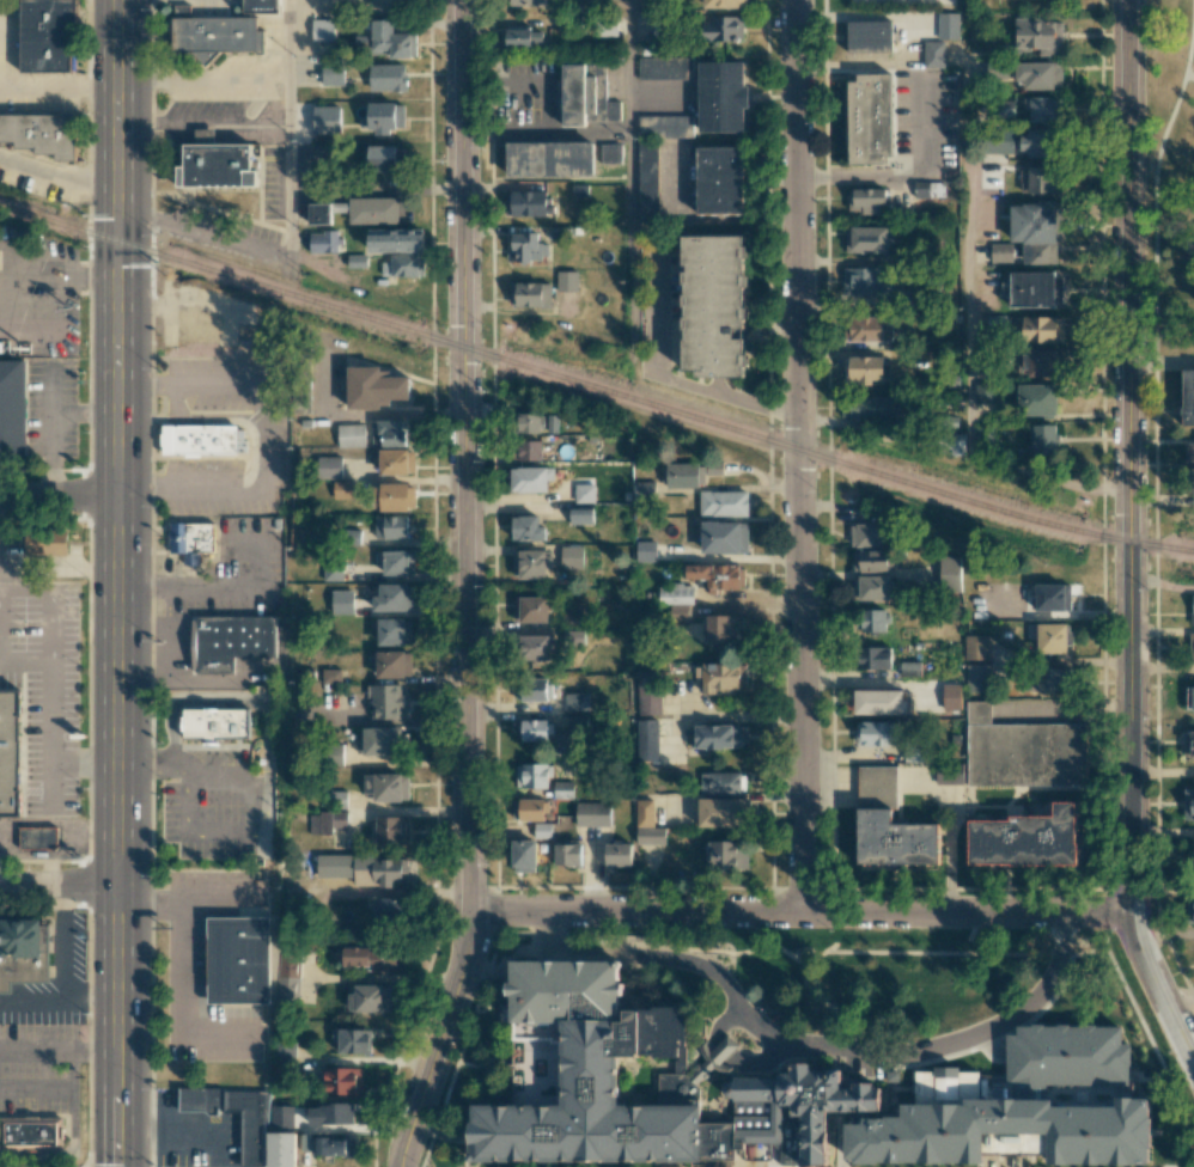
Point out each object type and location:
building: (534, 2)
building: (724, 2)
building: (262, 6)
building: (876, 6)
building: (948, 25)
building: (721, 29)
building: (322, 30)
building: (49, 35)
building: (218, 35)
building: (869, 35)
building: (1040, 35)
building: (523, 37)
building: (390, 39)
building: (933, 53)
road: (628, 67)
building: (664, 67)
building: (333, 74)
building: (1040, 74)
road: (1190, 74)
road: (1193, 74)
building: (388, 77)
road: (59, 84)
building: (578, 97)
building: (725, 98)
building: (1041, 109)
building: (325, 117)
building: (383, 117)
building: (867, 120)
building: (665, 126)
road: (290, 130)
road: (546, 134)
building: (42, 136)
building: (999, 141)
building: (1036, 142)
park: (1159, 148)
building: (610, 153)
building: (382, 158)
building: (554, 161)
building: (220, 169)
road: (59, 173)
road: (910, 177)
building: (1040, 179)
building: (647, 181)
building: (724, 182)
building: (928, 189)
building: (866, 200)
building: (525, 203)
building: (373, 209)
building: (318, 213)
building: (1035, 230)
road: (1192, 232)
road: (203, 236)
building: (866, 239)
building: (396, 240)
building: (324, 242)
road: (630, 245)
building: (526, 246)
building: (1001, 252)
building: (403, 265)
building: (567, 280)
building: (866, 280)
building: (1035, 288)
building: (530, 294)
building: (713, 307)
building: (867, 329)
building: (1038, 329)
road: (969, 337)
building: (1037, 362)
road: (1161, 362)
building: (866, 369)
road: (659, 375)
building: (373, 387)
railway: (595, 387)
building: (983, 395)
building: (1187, 396)
building: (1036, 399)
building: (12, 403)
building: (869, 407)
building: (528, 422)
building: (388, 433)
building: (351, 435)
building: (200, 439)
building: (1042, 439)
building: (956, 444)
building: (528, 450)
building: (1189, 452)
road: (798, 456)
building: (396, 460)
building: (329, 466)
building: (689, 473)
building: (530, 478)
building: (642, 490)
building: (584, 493)
road: (59, 495)
building: (391, 496)
road: (1156, 499)
building: (723, 503)
building: (581, 514)
building: (390, 526)
building: (526, 527)
building: (867, 534)
building: (724, 537)
road: (1129, 538)
building: (191, 540)
building: (45, 542)
building: (646, 551)
building: (572, 556)
building: (395, 561)
building: (870, 561)
building: (531, 563)
parking lot: (234, 572)
building: (333, 572)
building: (950, 574)
building: (718, 575)
road: (117, 582)
building: (871, 587)
road: (465, 588)
road: (226, 591)
building: (394, 597)
building: (1052, 597)
road: (53, 599)
building: (342, 601)
building: (530, 609)
building: (1192, 610)
building: (572, 617)
building: (873, 619)
building: (720, 629)
building: (394, 630)
building: (573, 637)
building: (1053, 637)
building: (230, 641)
building: (976, 646)
building: (536, 647)
building: (1190, 647)
building: (873, 658)
road: (26, 664)
building: (390, 664)
building: (909, 668)
building: (723, 677)
building: (976, 677)
building: (1054, 679)
building: (531, 689)
building: (648, 695)
building: (951, 696)
building: (1189, 697)
building: (385, 699)
building: (879, 702)
building: (218, 722)
building: (577, 722)
building: (534, 729)
building: (873, 733)
building: (718, 735)
building: (646, 739)
building: (380, 741)
building: (1188, 744)
road: (51, 747)
building: (1017, 752)
building: (11, 753)
building: (531, 775)
building: (721, 782)
building: (564, 789)
building: (1188, 802)
building: (529, 808)
building: (644, 812)
building: (724, 812)
building: (592, 813)
building: (327, 821)
building: (888, 825)
building: (391, 829)
building: (542, 829)
building: (650, 835)
building: (38, 837)
building: (1025, 839)
building: (567, 854)
building: (617, 854)
building: (523, 855)
building: (726, 856)
building: (1193, 856)
building: (379, 869)
building: (293, 875)
road: (59, 886)
road: (223, 898)
road: (150, 899)
building: (389, 910)
building: (1193, 910)
road: (799, 911)
road: (506, 931)
road: (1163, 933)
road: (62, 939)
road: (677, 947)
building: (22, 949)
road: (822, 952)
road: (965, 952)
building: (374, 958)
road: (519, 958)
building: (240, 959)
building: (288, 977)
road: (91, 991)
building: (370, 997)
road: (492, 1000)
road: (37, 1002)
road: (827, 1002)
road: (1182, 1008)
road: (181, 1009)
road: (721, 1020)
road: (1141, 1021)
building: (352, 1039)
road: (59, 1045)
road: (820, 1045)
road: (461, 1049)
road: (721, 1049)
building: (1068, 1051)
building: (713, 1057)
building: (282, 1059)
building: (562, 1059)
road: (483, 1062)
road: (761, 1062)
road: (72, 1068)
building: (893, 1074)
building: (342, 1080)
road: (36, 1088)
building: (200, 1099)
building: (330, 1113)
building: (281, 1116)
building: (250, 1123)
building: (1003, 1123)
road: (184, 1130)
building: (31, 1134)
building: (329, 1144)
building: (280, 1149)
road: (68, 1154)
road: (1174, 1166)

